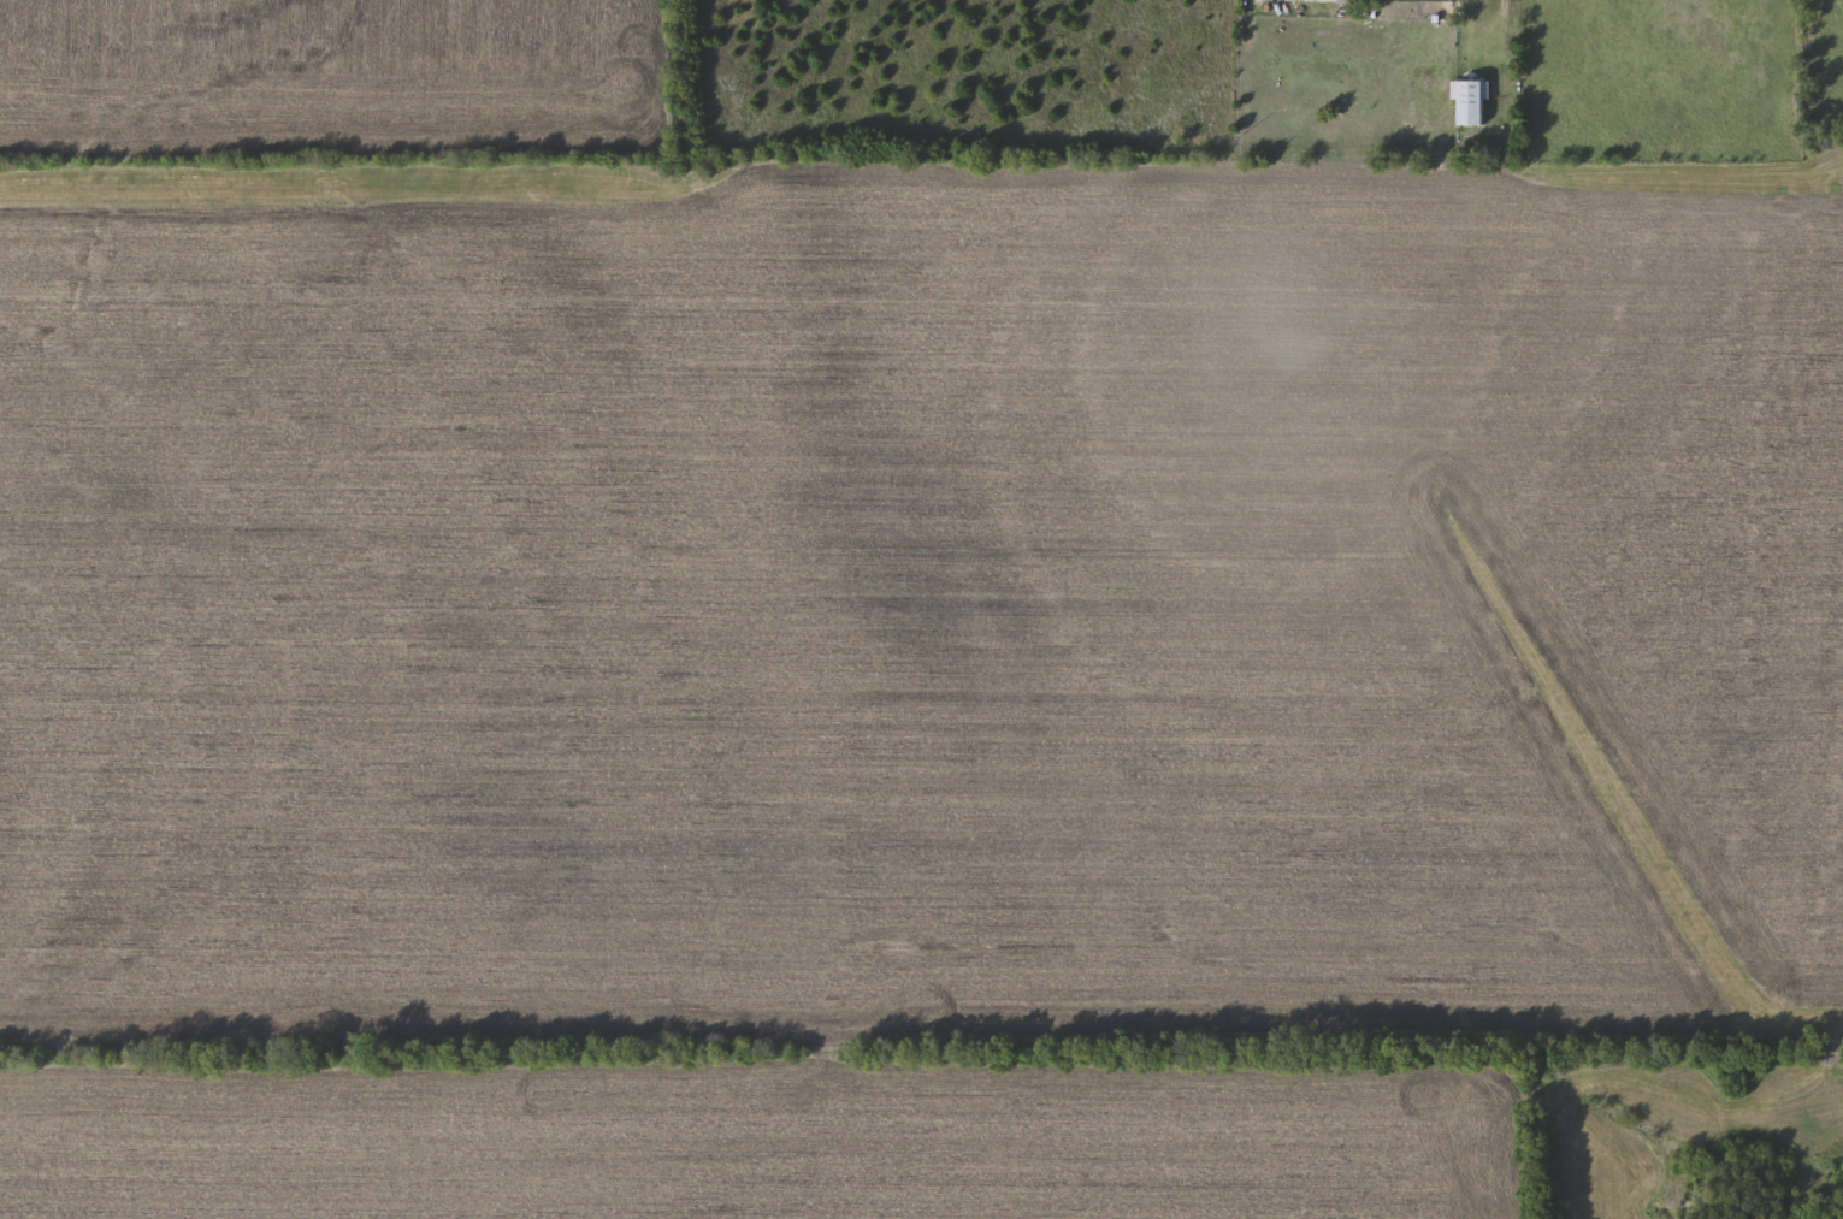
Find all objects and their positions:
building: (1472, 103)

